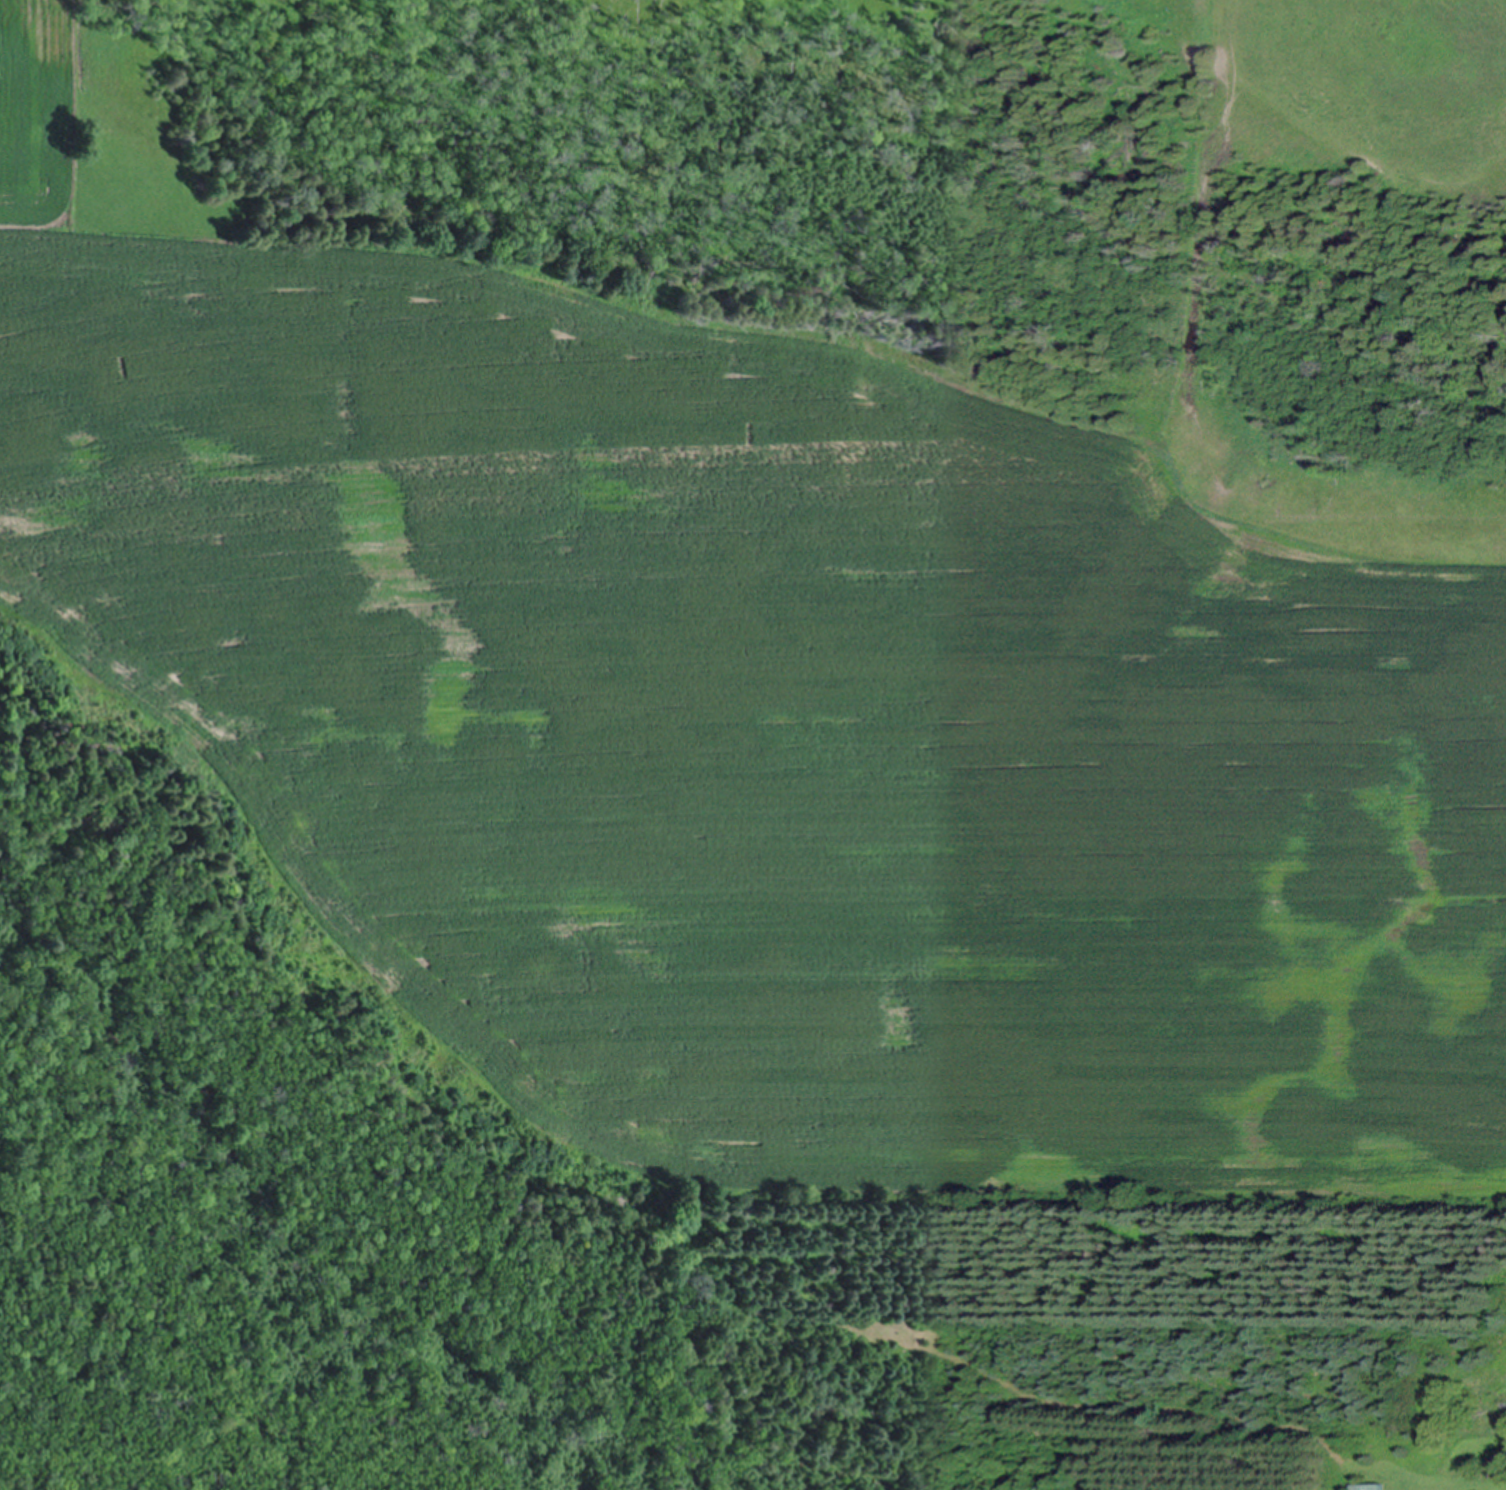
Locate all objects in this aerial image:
building: (1500, 1459)
building: (1369, 1485)

